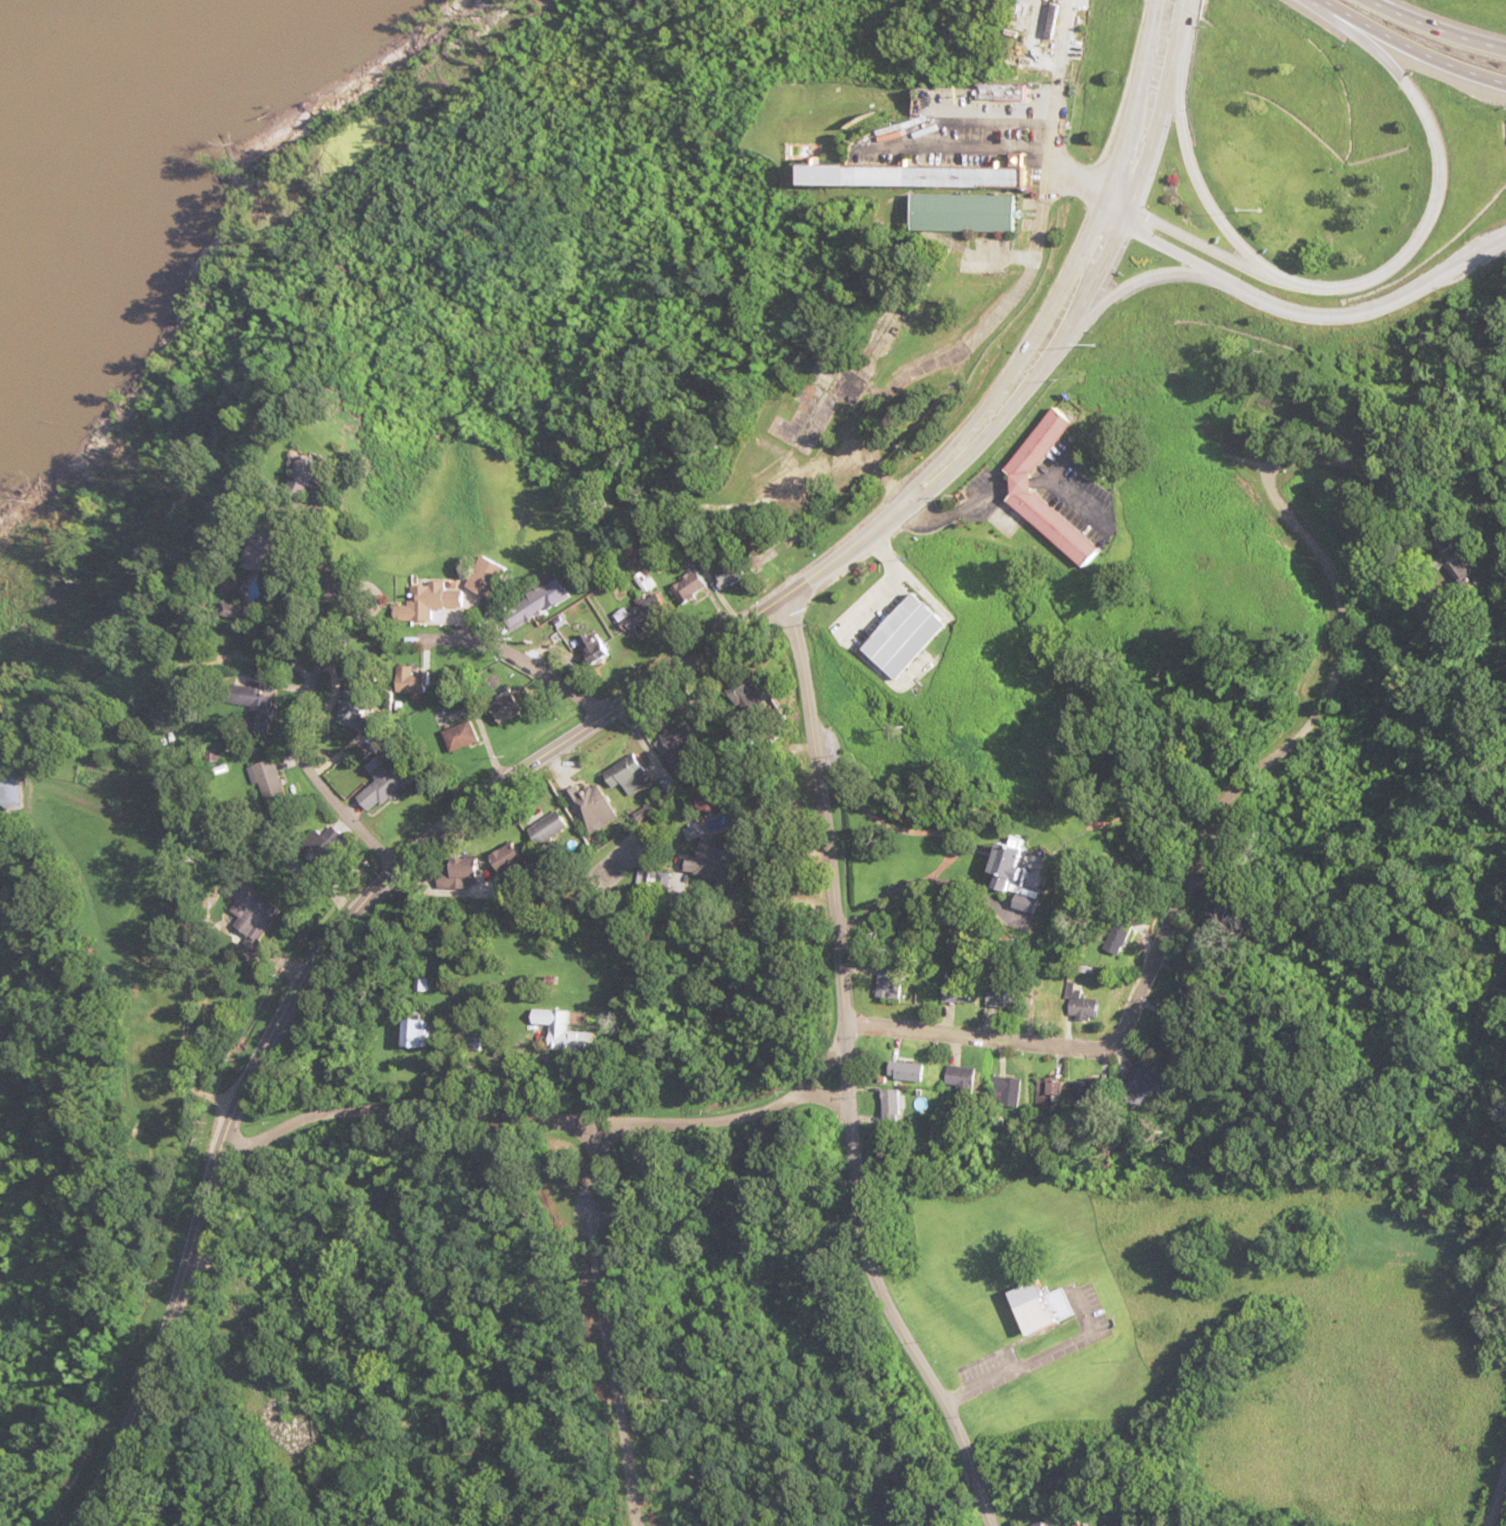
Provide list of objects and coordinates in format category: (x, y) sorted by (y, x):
road: (1179, 9)
road: (1436, 29)
road: (1407, 49)
road: (1154, 114)
road: (1052, 121)
building: (924, 177)
building: (969, 213)
road: (1198, 240)
road: (1135, 287)
road: (1379, 293)
road: (1308, 316)
road: (958, 350)
building: (327, 482)
building: (1033, 486)
building: (735, 573)
building: (492, 577)
building: (693, 586)
building: (432, 601)
building: (543, 602)
building: (641, 627)
building: (919, 635)
road: (494, 647)
road: (652, 677)
road: (338, 683)
building: (518, 703)
building: (464, 735)
building: (630, 776)
building: (271, 781)
building: (387, 781)
building: (25, 787)
building: (593, 806)
building: (551, 827)
road: (1205, 866)
building: (1022, 868)
building: (462, 873)
building: (247, 902)
building: (1047, 1002)
building: (568, 1031)
building: (422, 1033)
building: (913, 1070)
road: (849, 1072)
building: (965, 1076)
building: (1147, 1082)
building: (1094, 1088)
building: (1013, 1092)
building: (899, 1104)
road: (544, 1117)
building: (1047, 1305)
road: (141, 1353)
railway: (1496, 1496)

